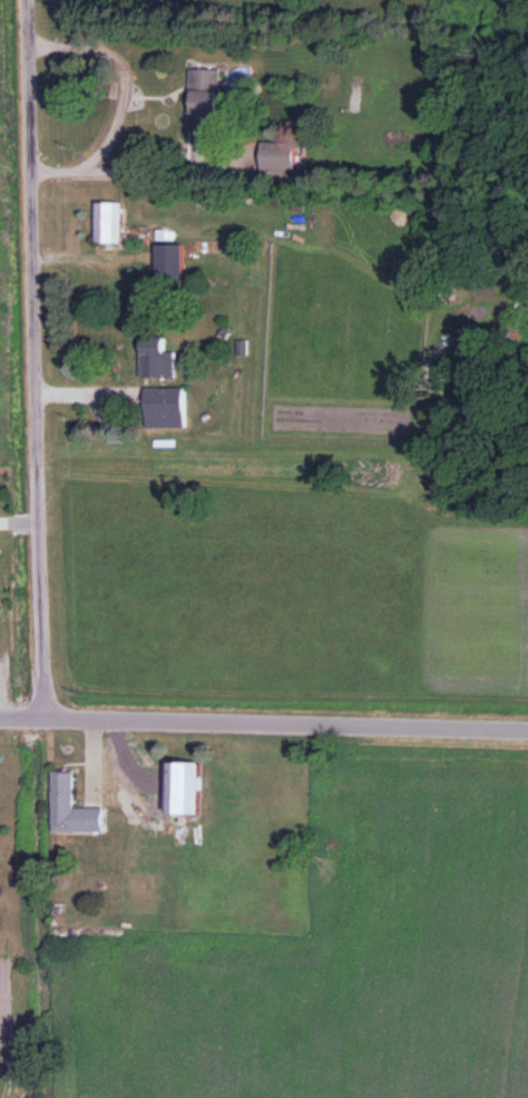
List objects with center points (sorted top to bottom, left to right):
building: (201, 100)
building: (274, 157)
building: (105, 223)
building: (166, 264)
road: (37, 359)
building: (154, 359)
building: (164, 408)
road: (20, 522)
road: (263, 722)
building: (178, 789)
building: (70, 809)

